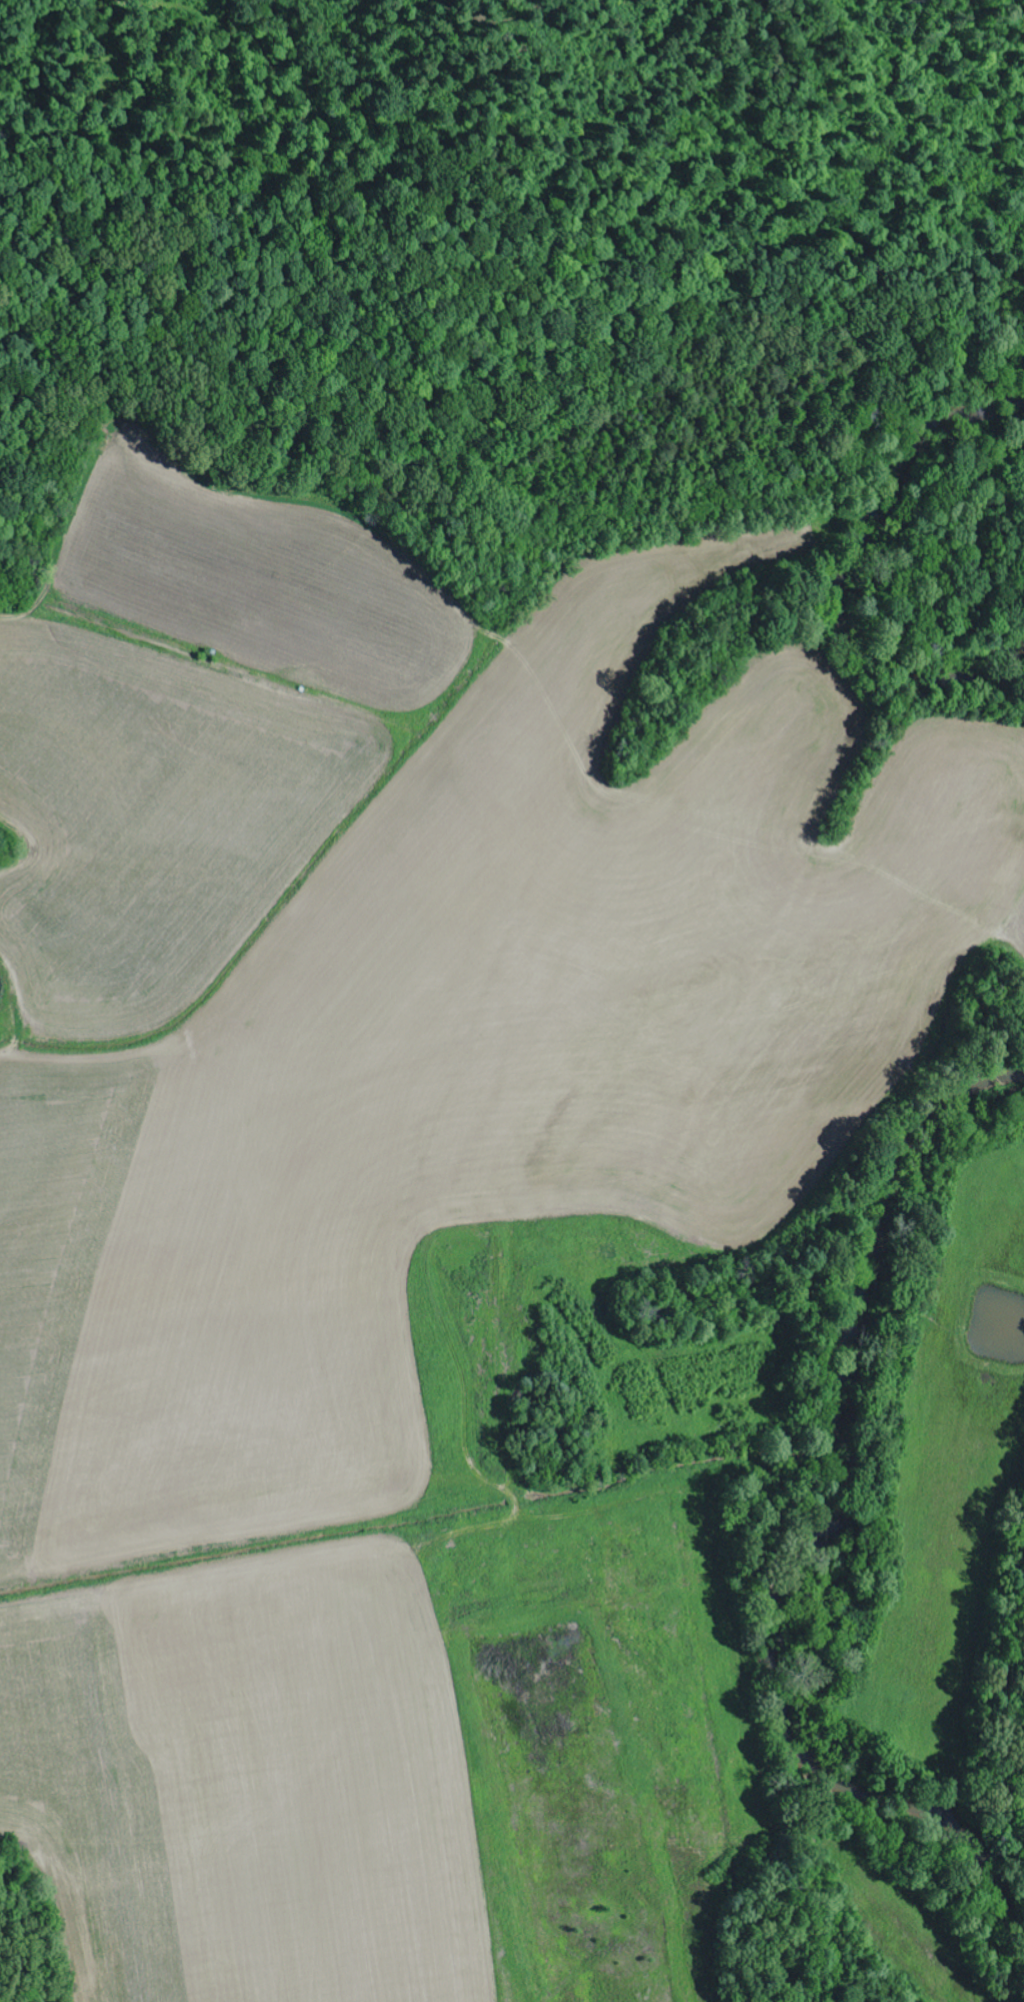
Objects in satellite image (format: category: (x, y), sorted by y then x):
river: (848, 573)
river: (819, 1541)

